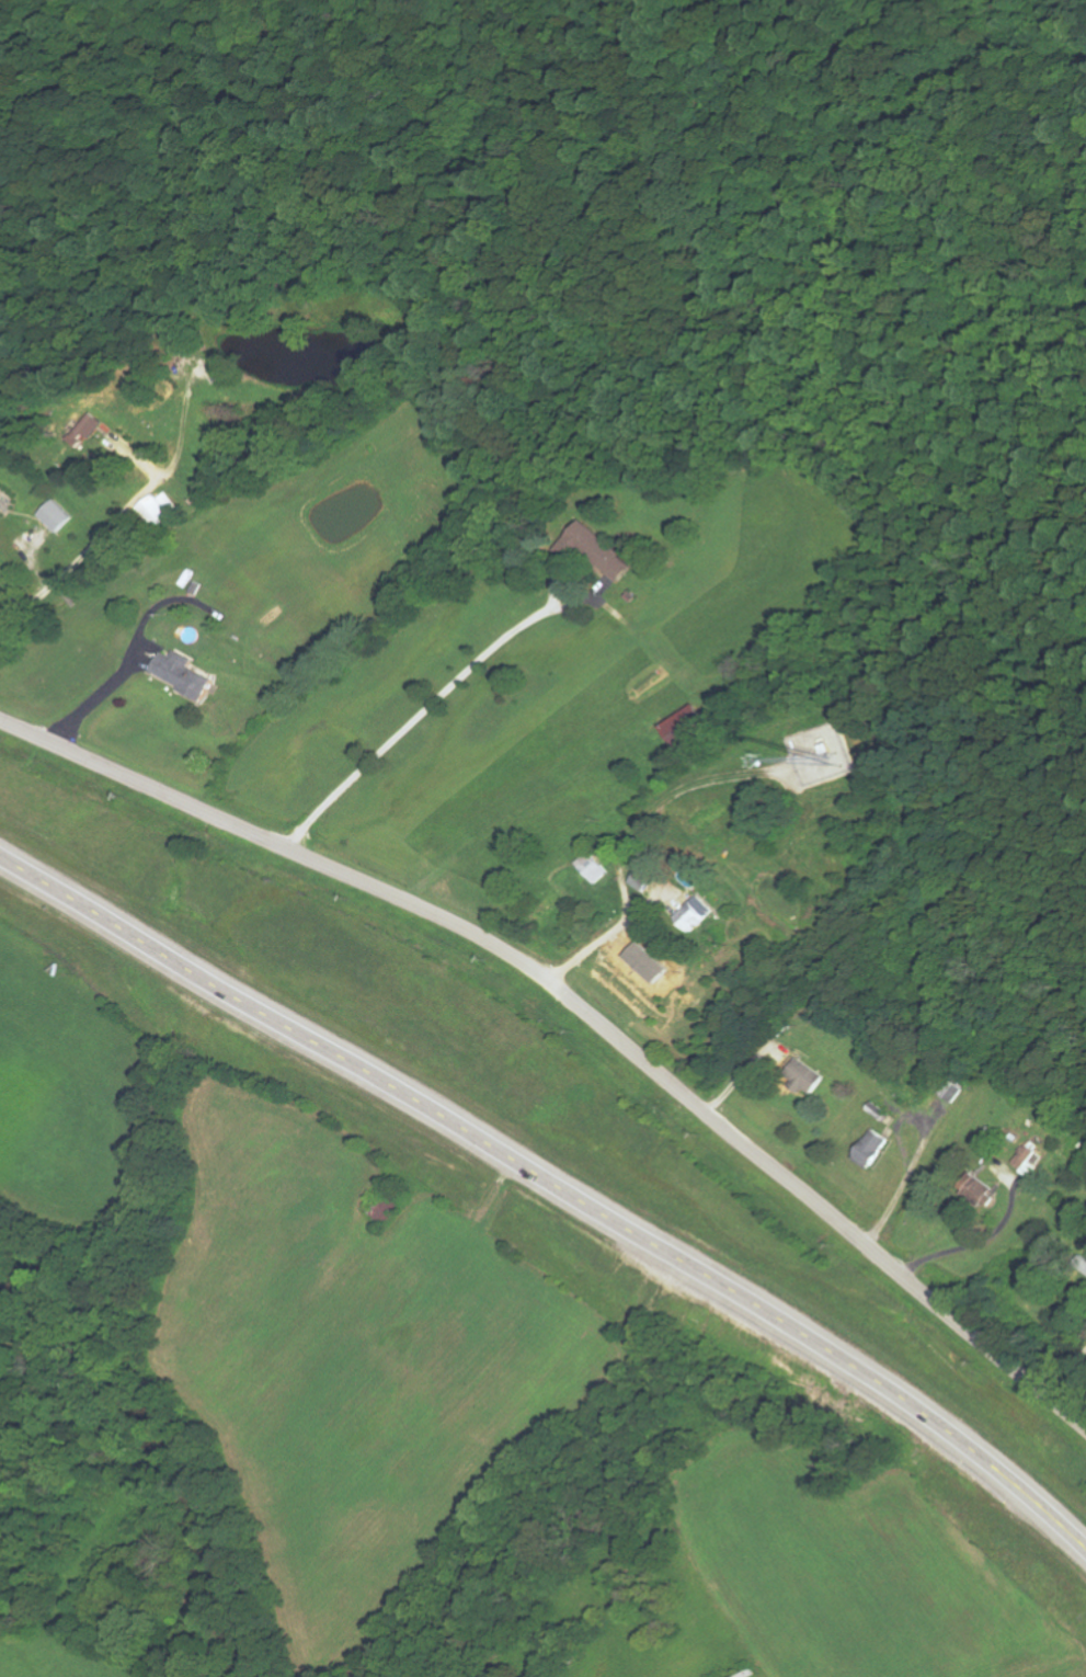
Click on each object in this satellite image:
building: (84, 430)
building: (55, 515)
building: (594, 551)
building: (182, 675)
building: (684, 726)
building: (640, 881)
building: (693, 914)
road: (583, 1015)
building: (802, 1075)
building: (949, 1091)
building: (869, 1148)
building: (1025, 1161)
road: (556, 1189)

